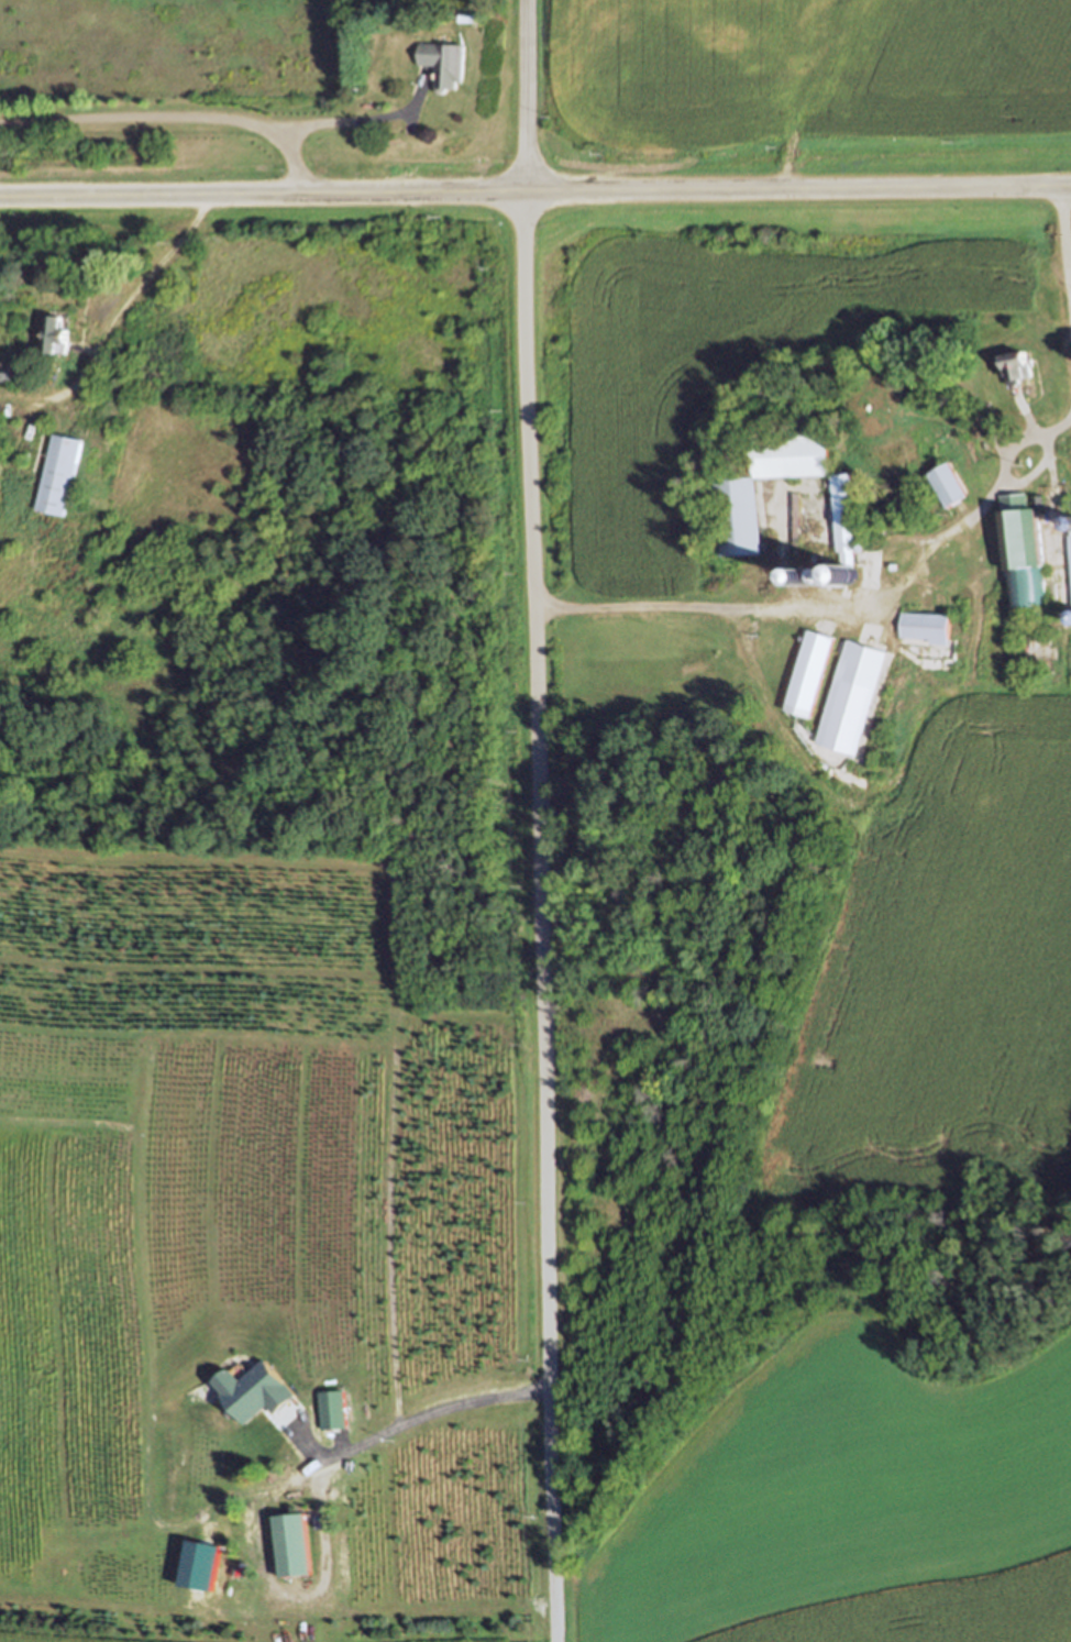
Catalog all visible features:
building: (470, 16)
building: (445, 62)
road: (175, 115)
road: (353, 123)
road: (535, 192)
road: (1069, 247)
road: (122, 321)
building: (56, 334)
building: (1018, 367)
building: (7, 373)
building: (795, 454)
building: (62, 474)
building: (949, 484)
building: (739, 515)
building: (794, 520)
building: (844, 525)
building: (1070, 544)
building: (1024, 548)
road: (843, 606)
building: (927, 626)
building: (809, 673)
building: (853, 698)
road: (540, 820)
building: (340, 1411)
road: (419, 1419)
building: (294, 1544)

